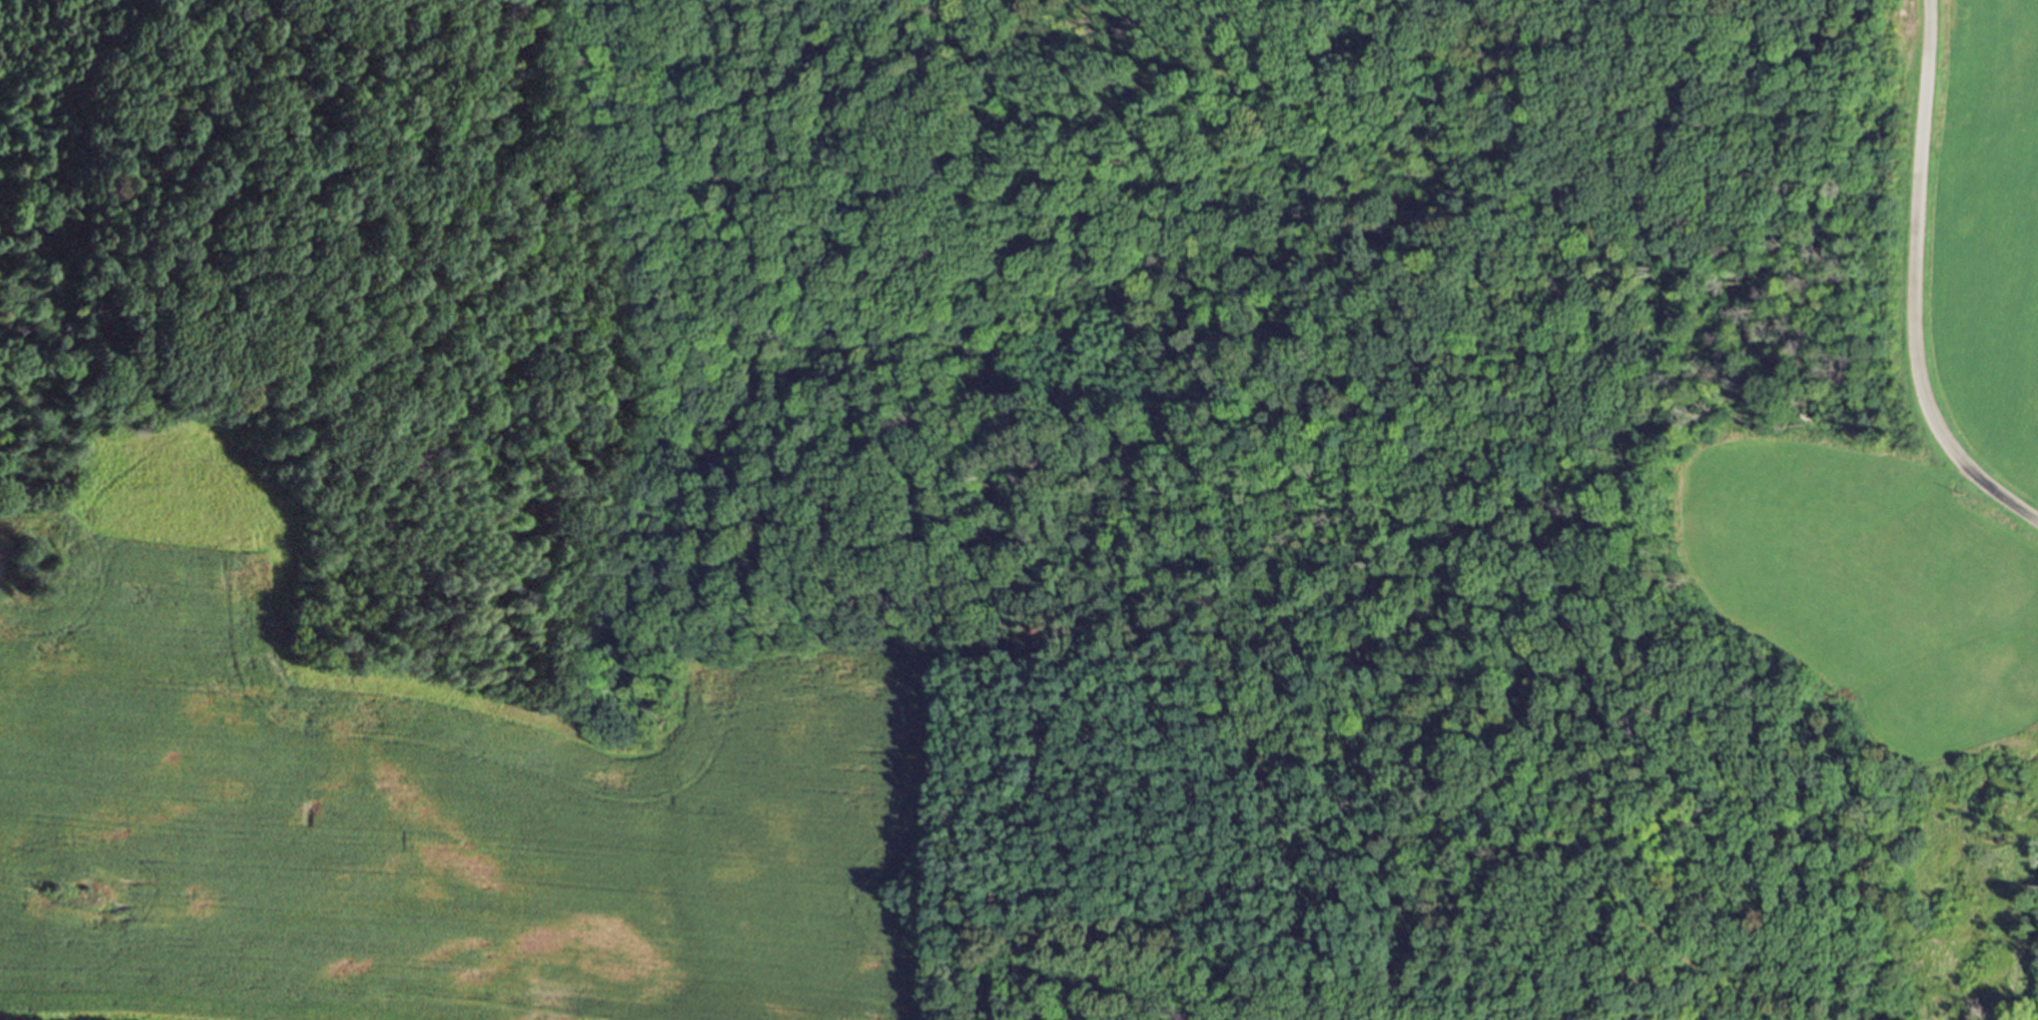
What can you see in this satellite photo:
road: (1915, 284)

